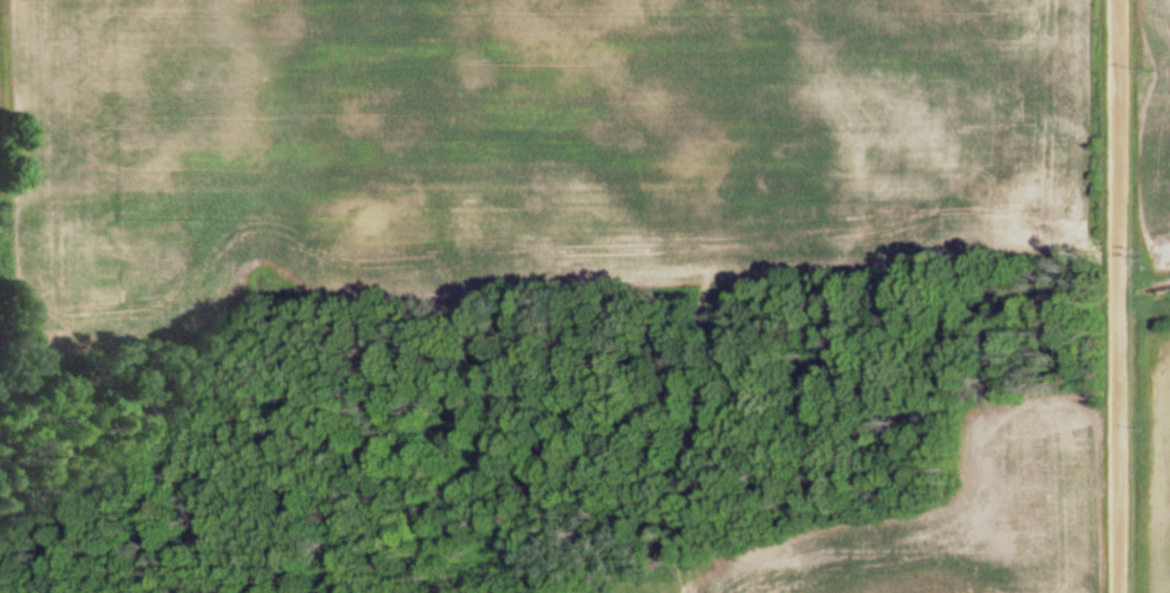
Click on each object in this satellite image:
road: (1117, 296)

